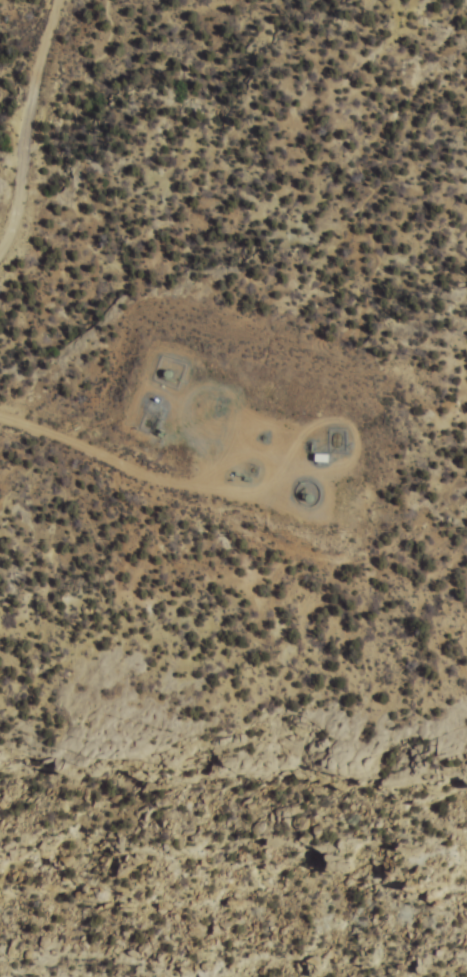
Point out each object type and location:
road: (35, 81)

